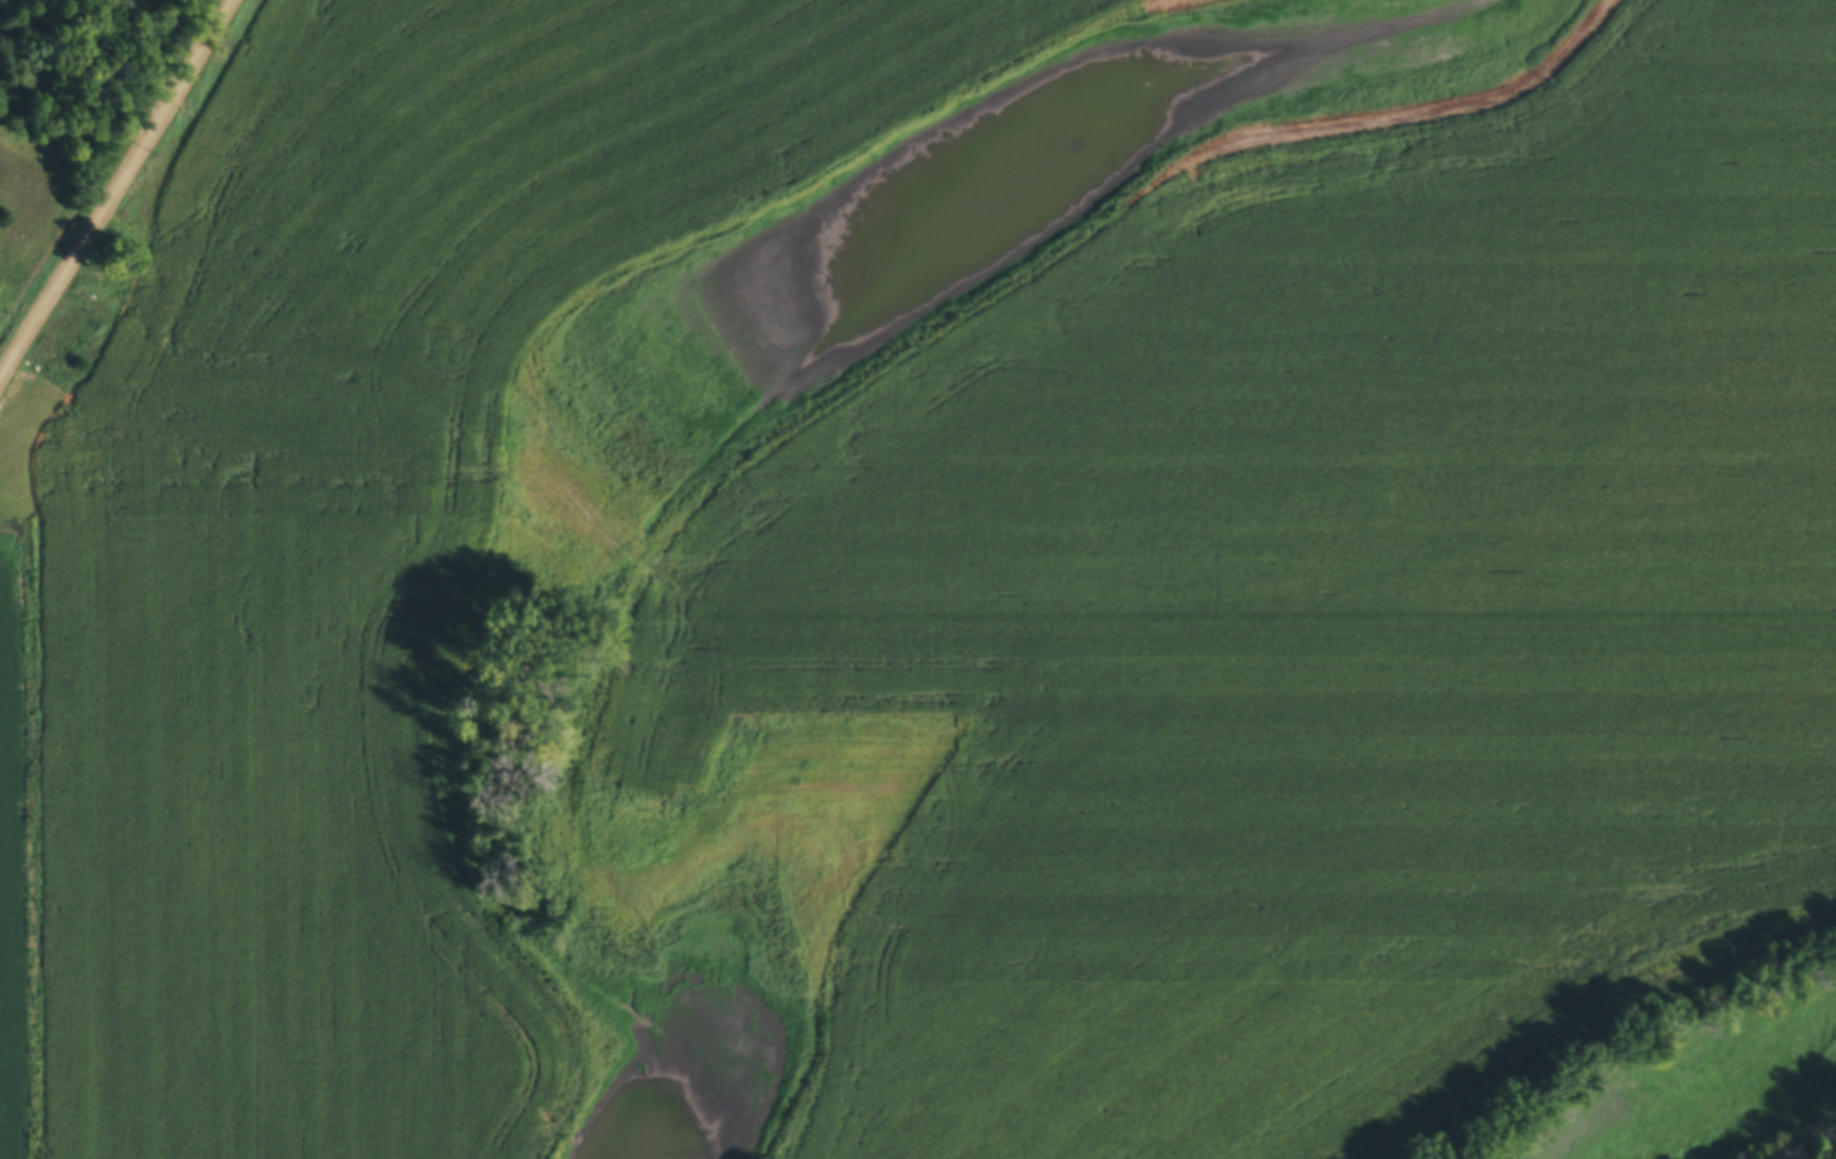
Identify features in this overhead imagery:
road: (117, 193)

